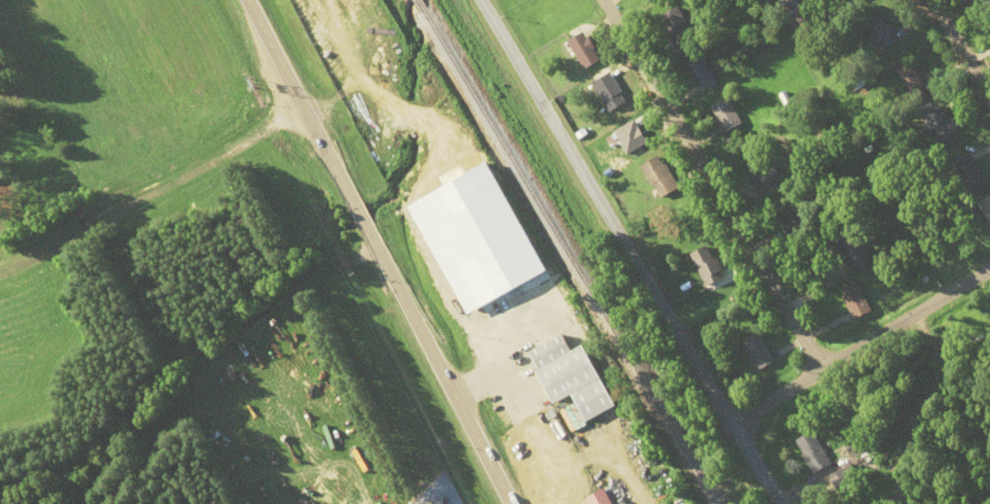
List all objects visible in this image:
railway: (416, 5)
building: (677, 27)
building: (879, 29)
road: (962, 46)
building: (583, 50)
building: (702, 72)
building: (909, 78)
building: (610, 92)
road: (299, 103)
building: (726, 115)
building: (660, 177)
road: (711, 185)
road: (151, 192)
building: (985, 206)
road: (358, 219)
road: (626, 251)
building: (855, 251)
railway: (568, 256)
building: (708, 266)
building: (855, 300)
road: (860, 346)
building: (759, 352)
road: (434, 367)
building: (571, 377)
building: (812, 453)
building: (844, 477)
building: (597, 498)

